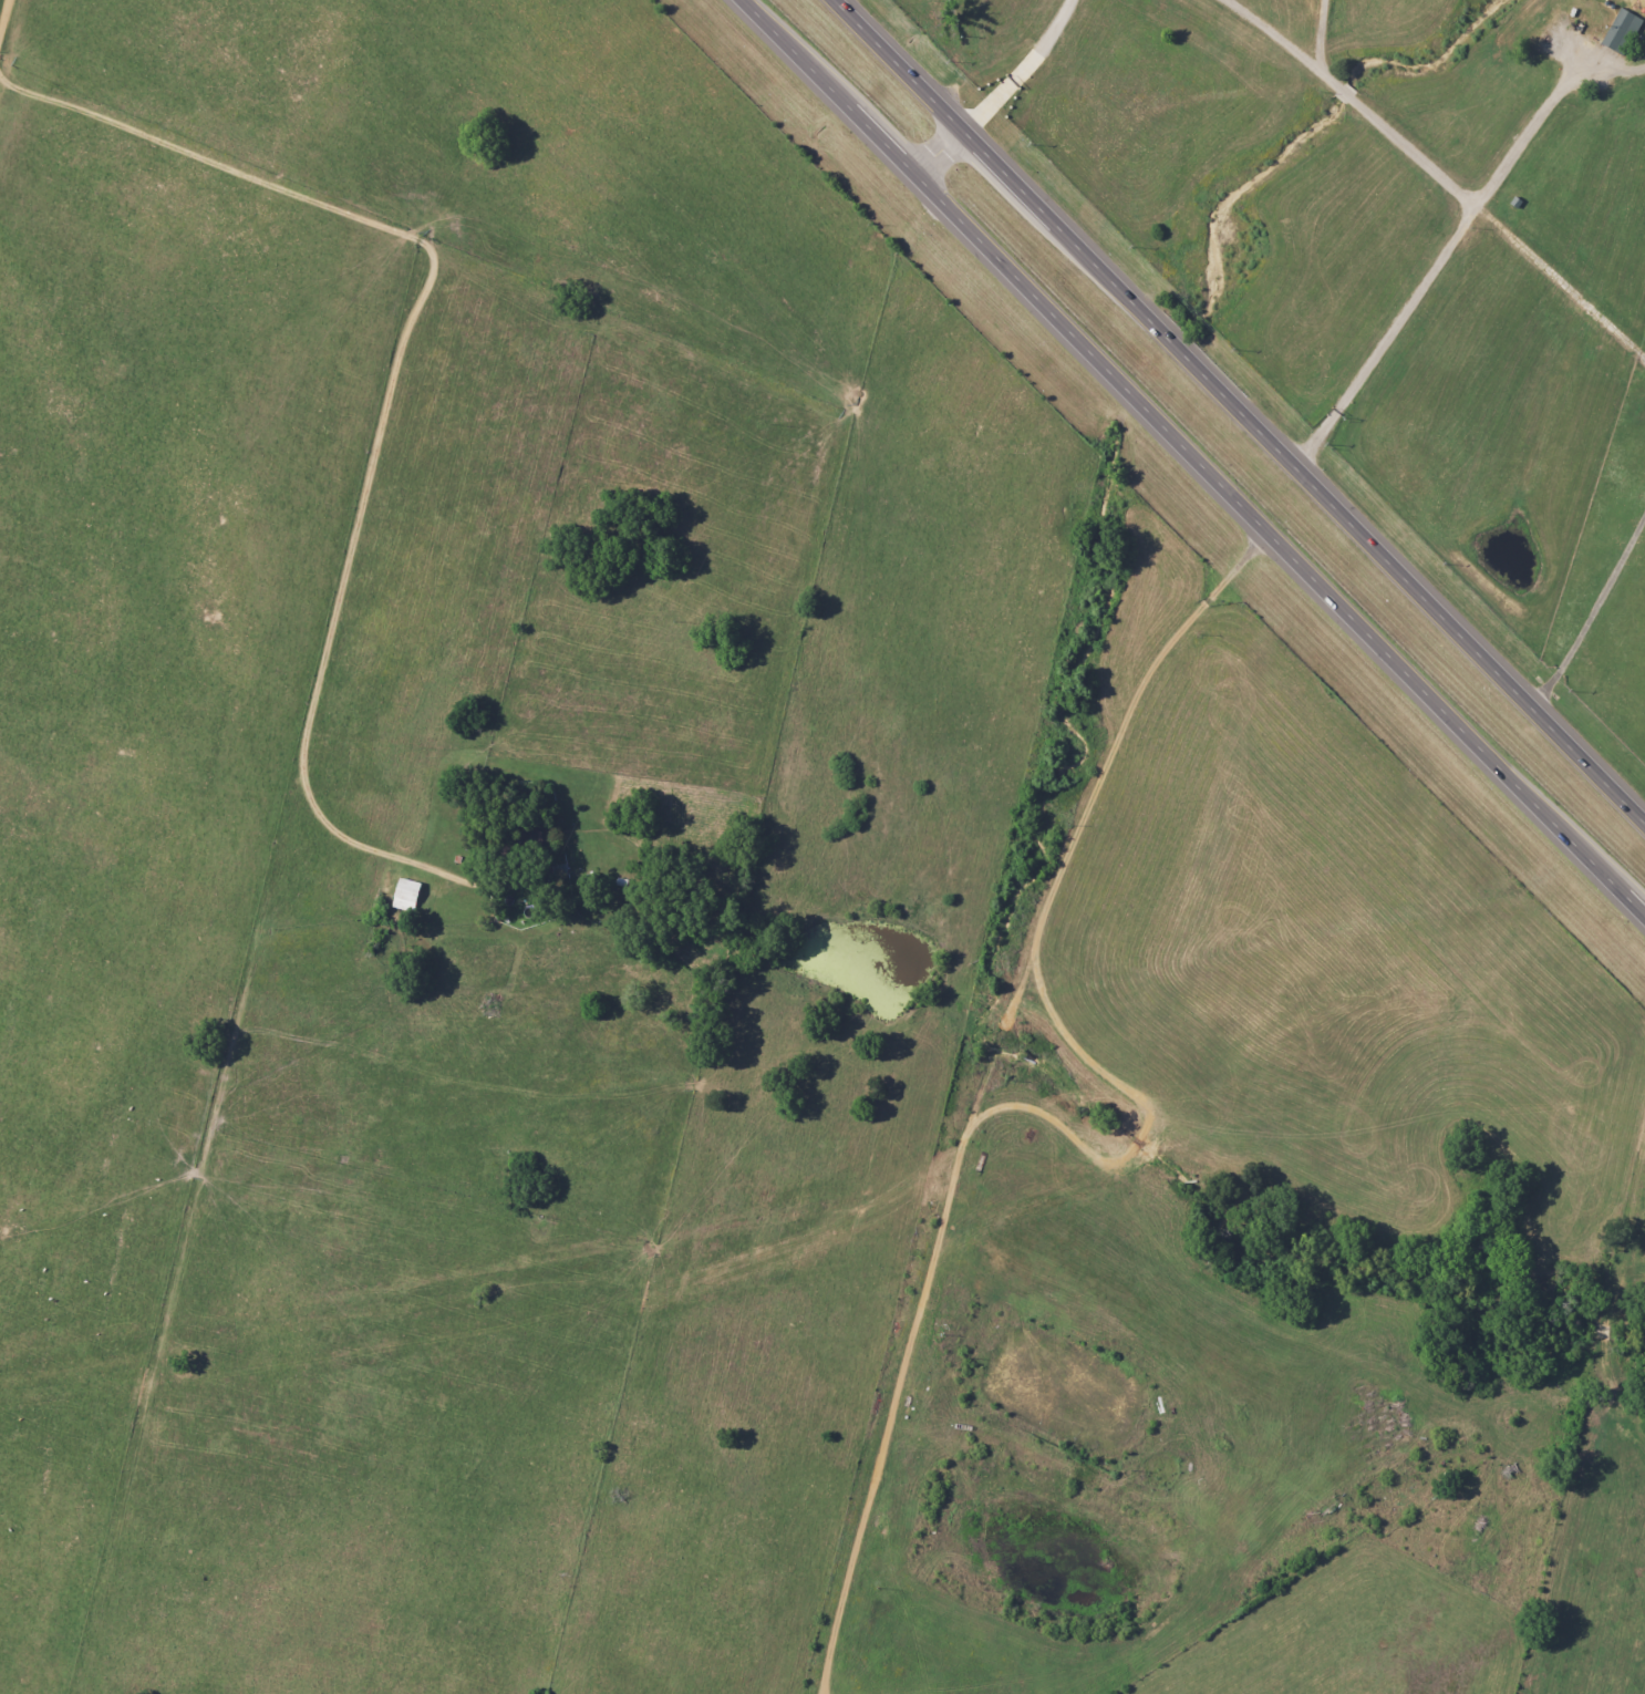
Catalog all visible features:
road: (4, 18)
building: (1616, 31)
road: (1320, 33)
road: (1021, 68)
road: (940, 153)
road: (1438, 175)
road: (1451, 238)
road: (386, 407)
road: (1241, 410)
road: (1192, 459)
road: (1592, 612)
building: (401, 892)
road: (979, 1091)

